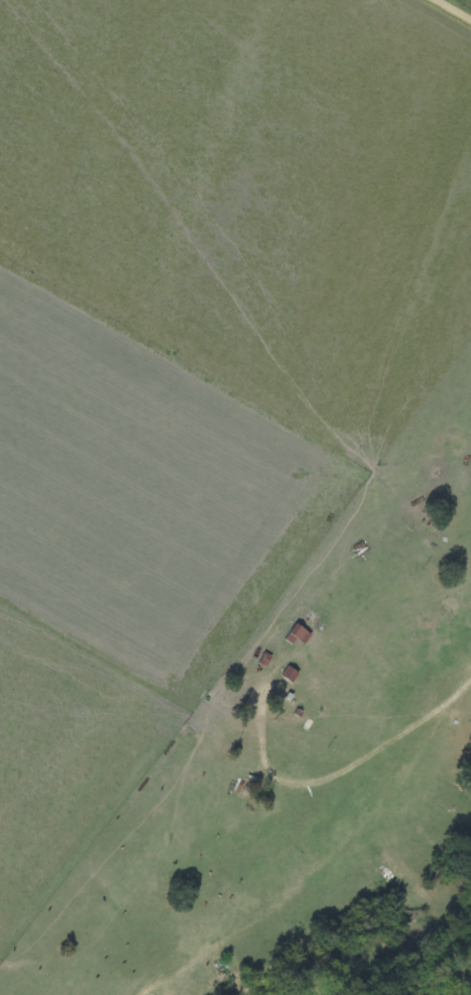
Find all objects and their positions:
road: (464, 3)
road: (345, 753)

